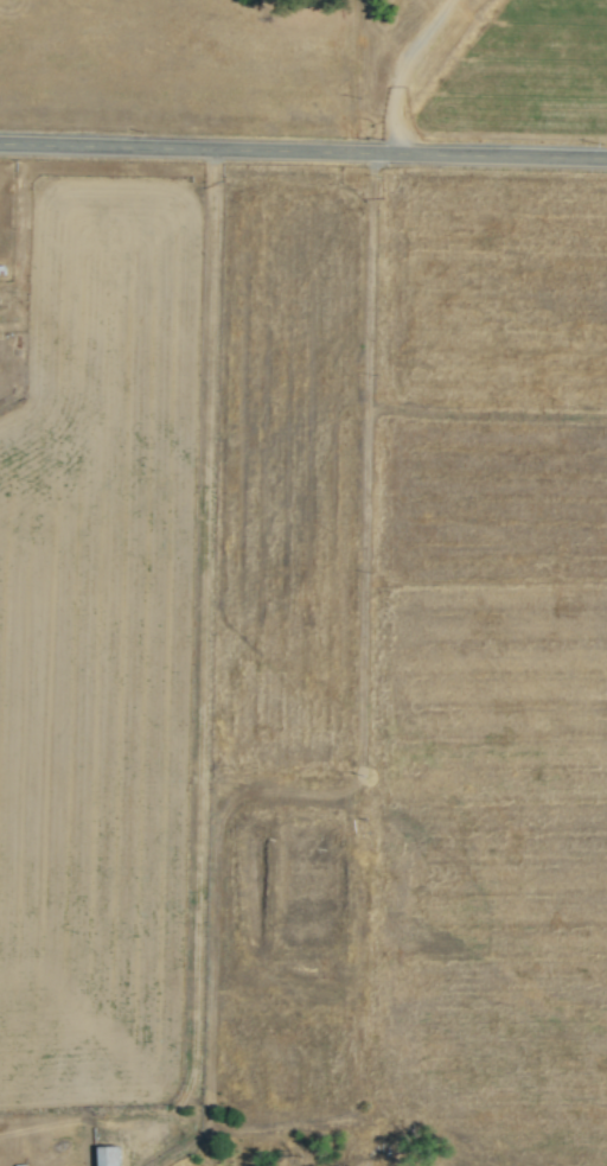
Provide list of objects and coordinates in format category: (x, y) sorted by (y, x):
crop: (524, 76)
road: (302, 149)
road: (486, 415)
crop: (100, 645)
road: (204, 664)
road: (364, 701)
road: (181, 1153)
building: (110, 1155)
road: (139, 1160)

